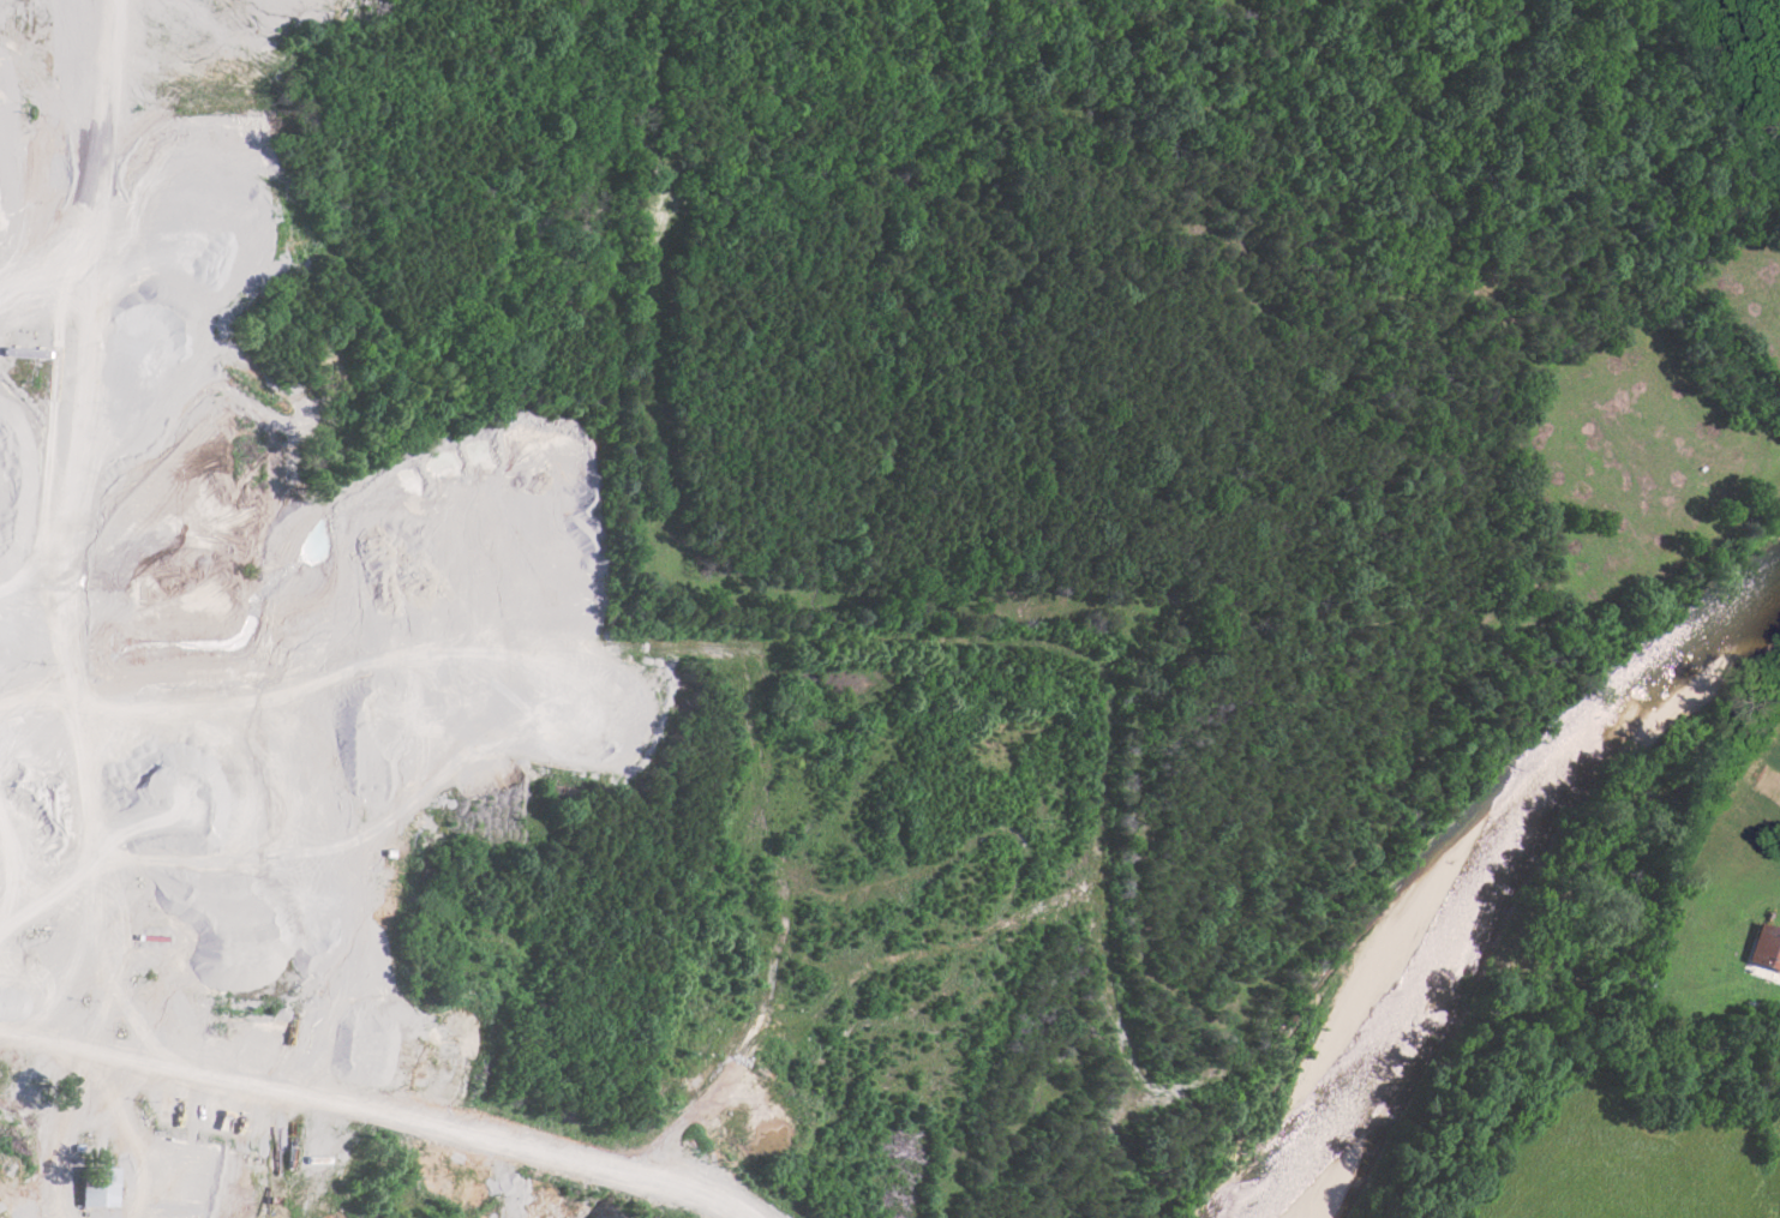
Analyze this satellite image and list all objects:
road: (108, 146)
building: (24, 350)
road: (22, 556)
road: (60, 634)
road: (469, 636)
quarry: (271, 683)
river: (1462, 862)
road: (364, 889)
building: (1766, 948)
road: (382, 1109)
building: (97, 1188)

